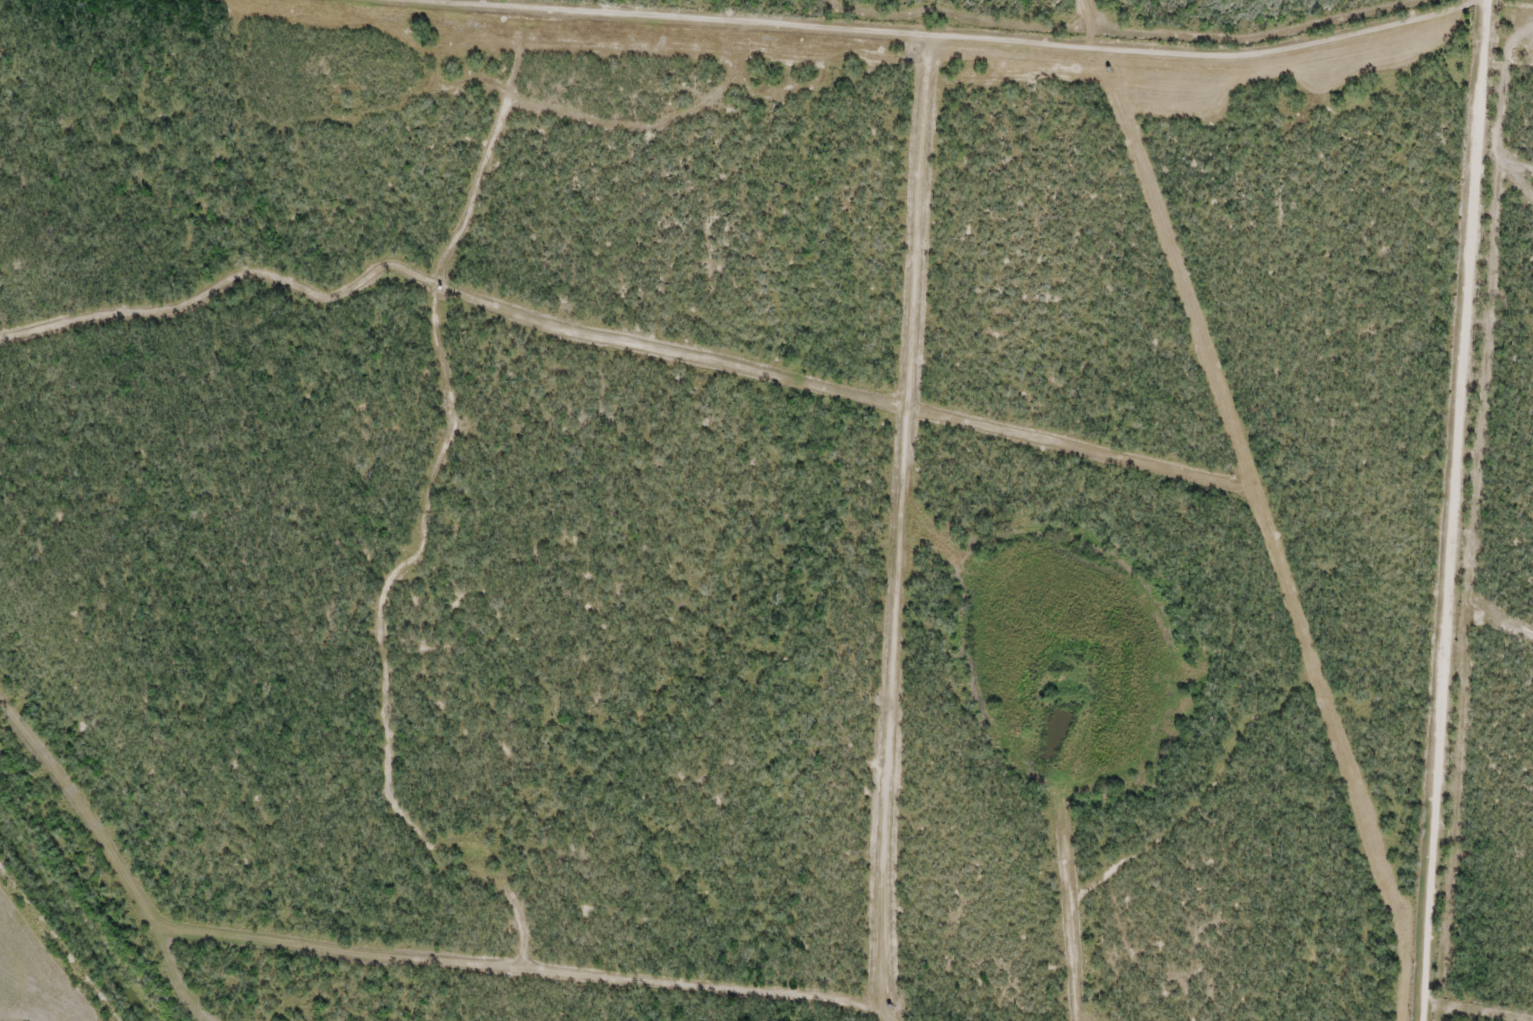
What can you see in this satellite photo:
road: (1471, 510)
river: (1059, 645)

